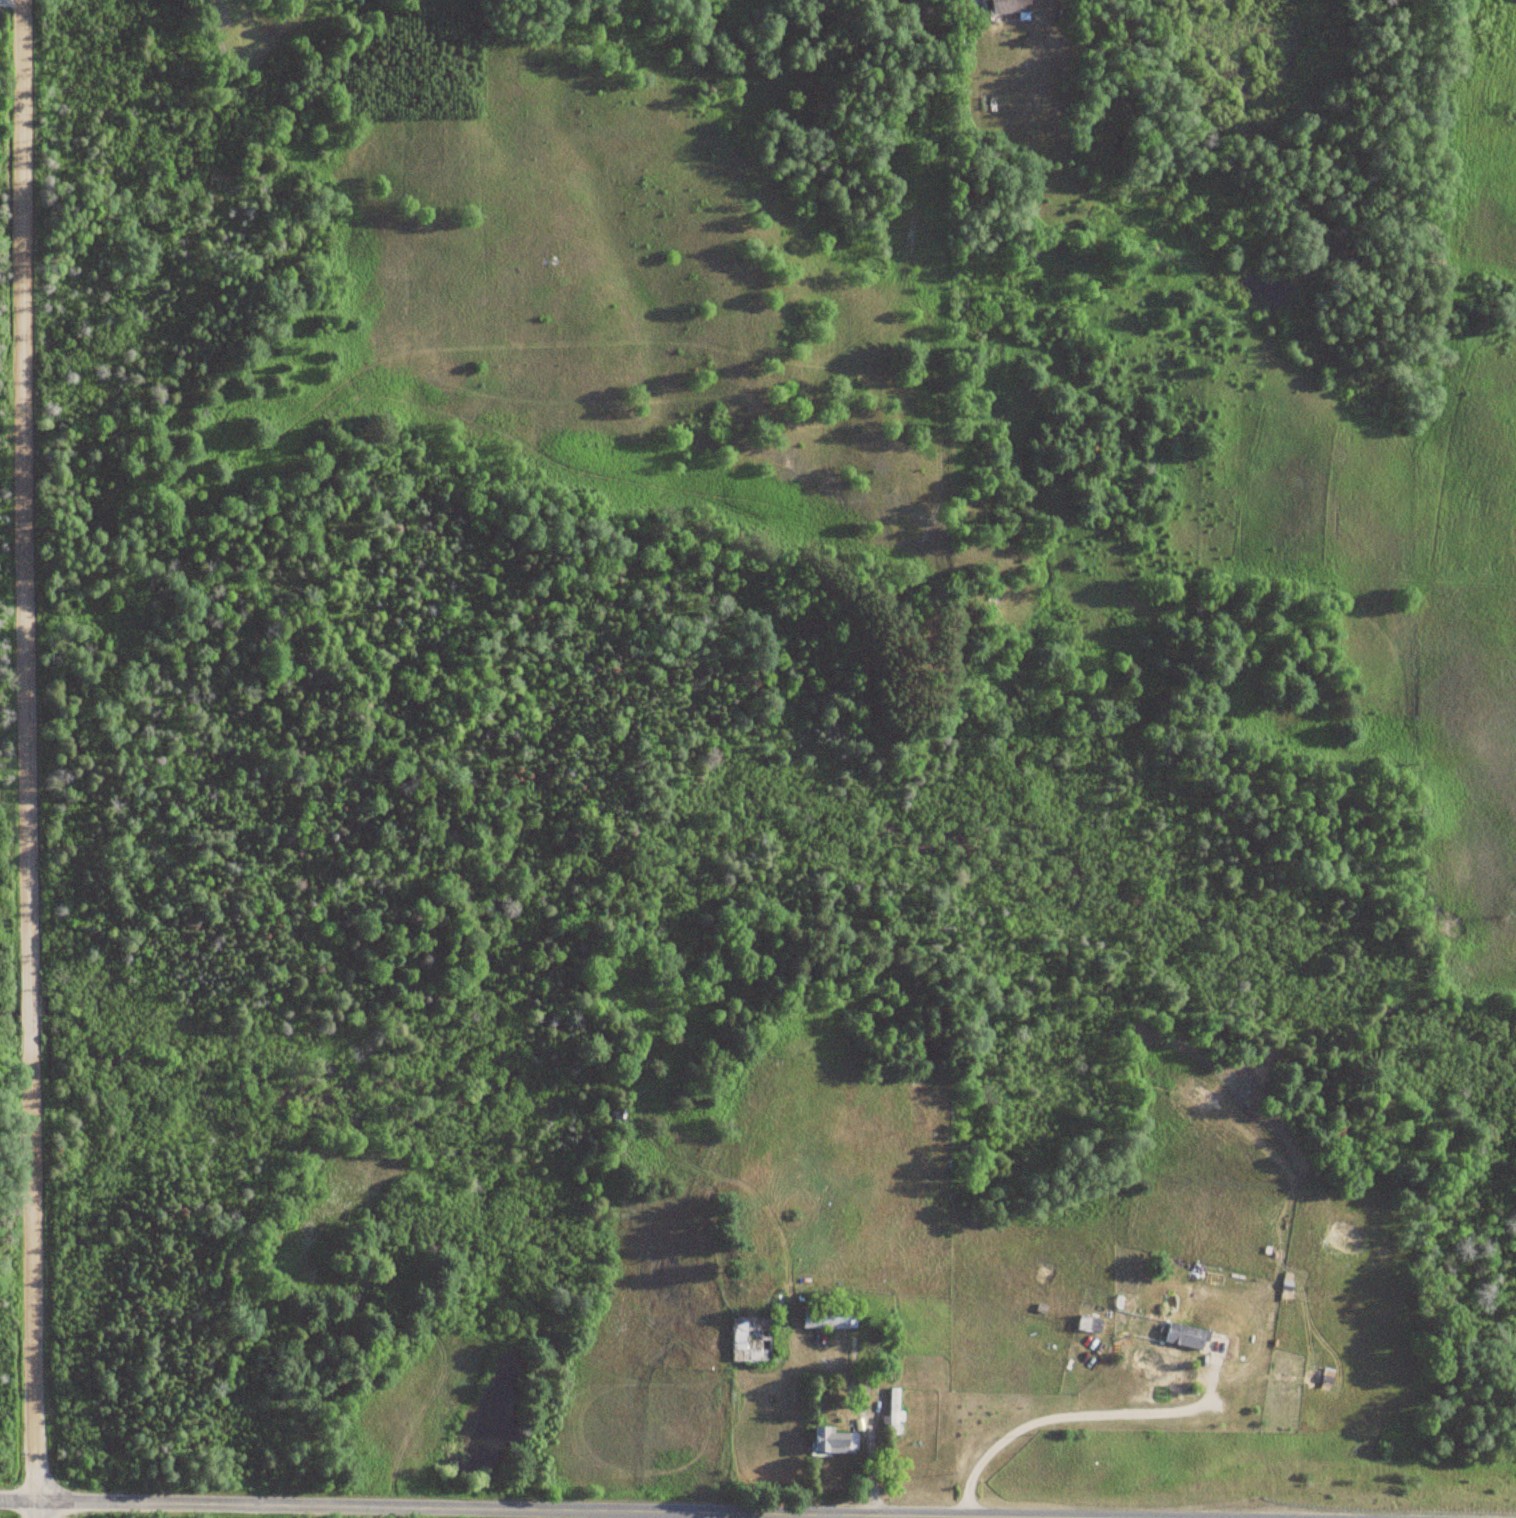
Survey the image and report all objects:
building: (1009, 6)
road: (32, 750)
building: (829, 1317)
building: (1185, 1334)
building: (751, 1338)
building: (893, 1410)
building: (835, 1440)
road: (33, 1509)
road: (480, 1509)

